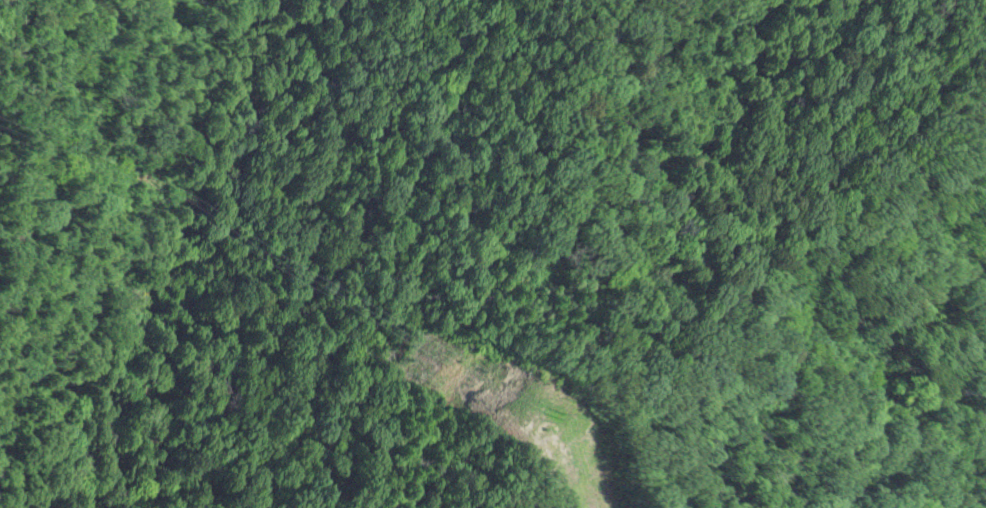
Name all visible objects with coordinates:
road: (760, 465)

